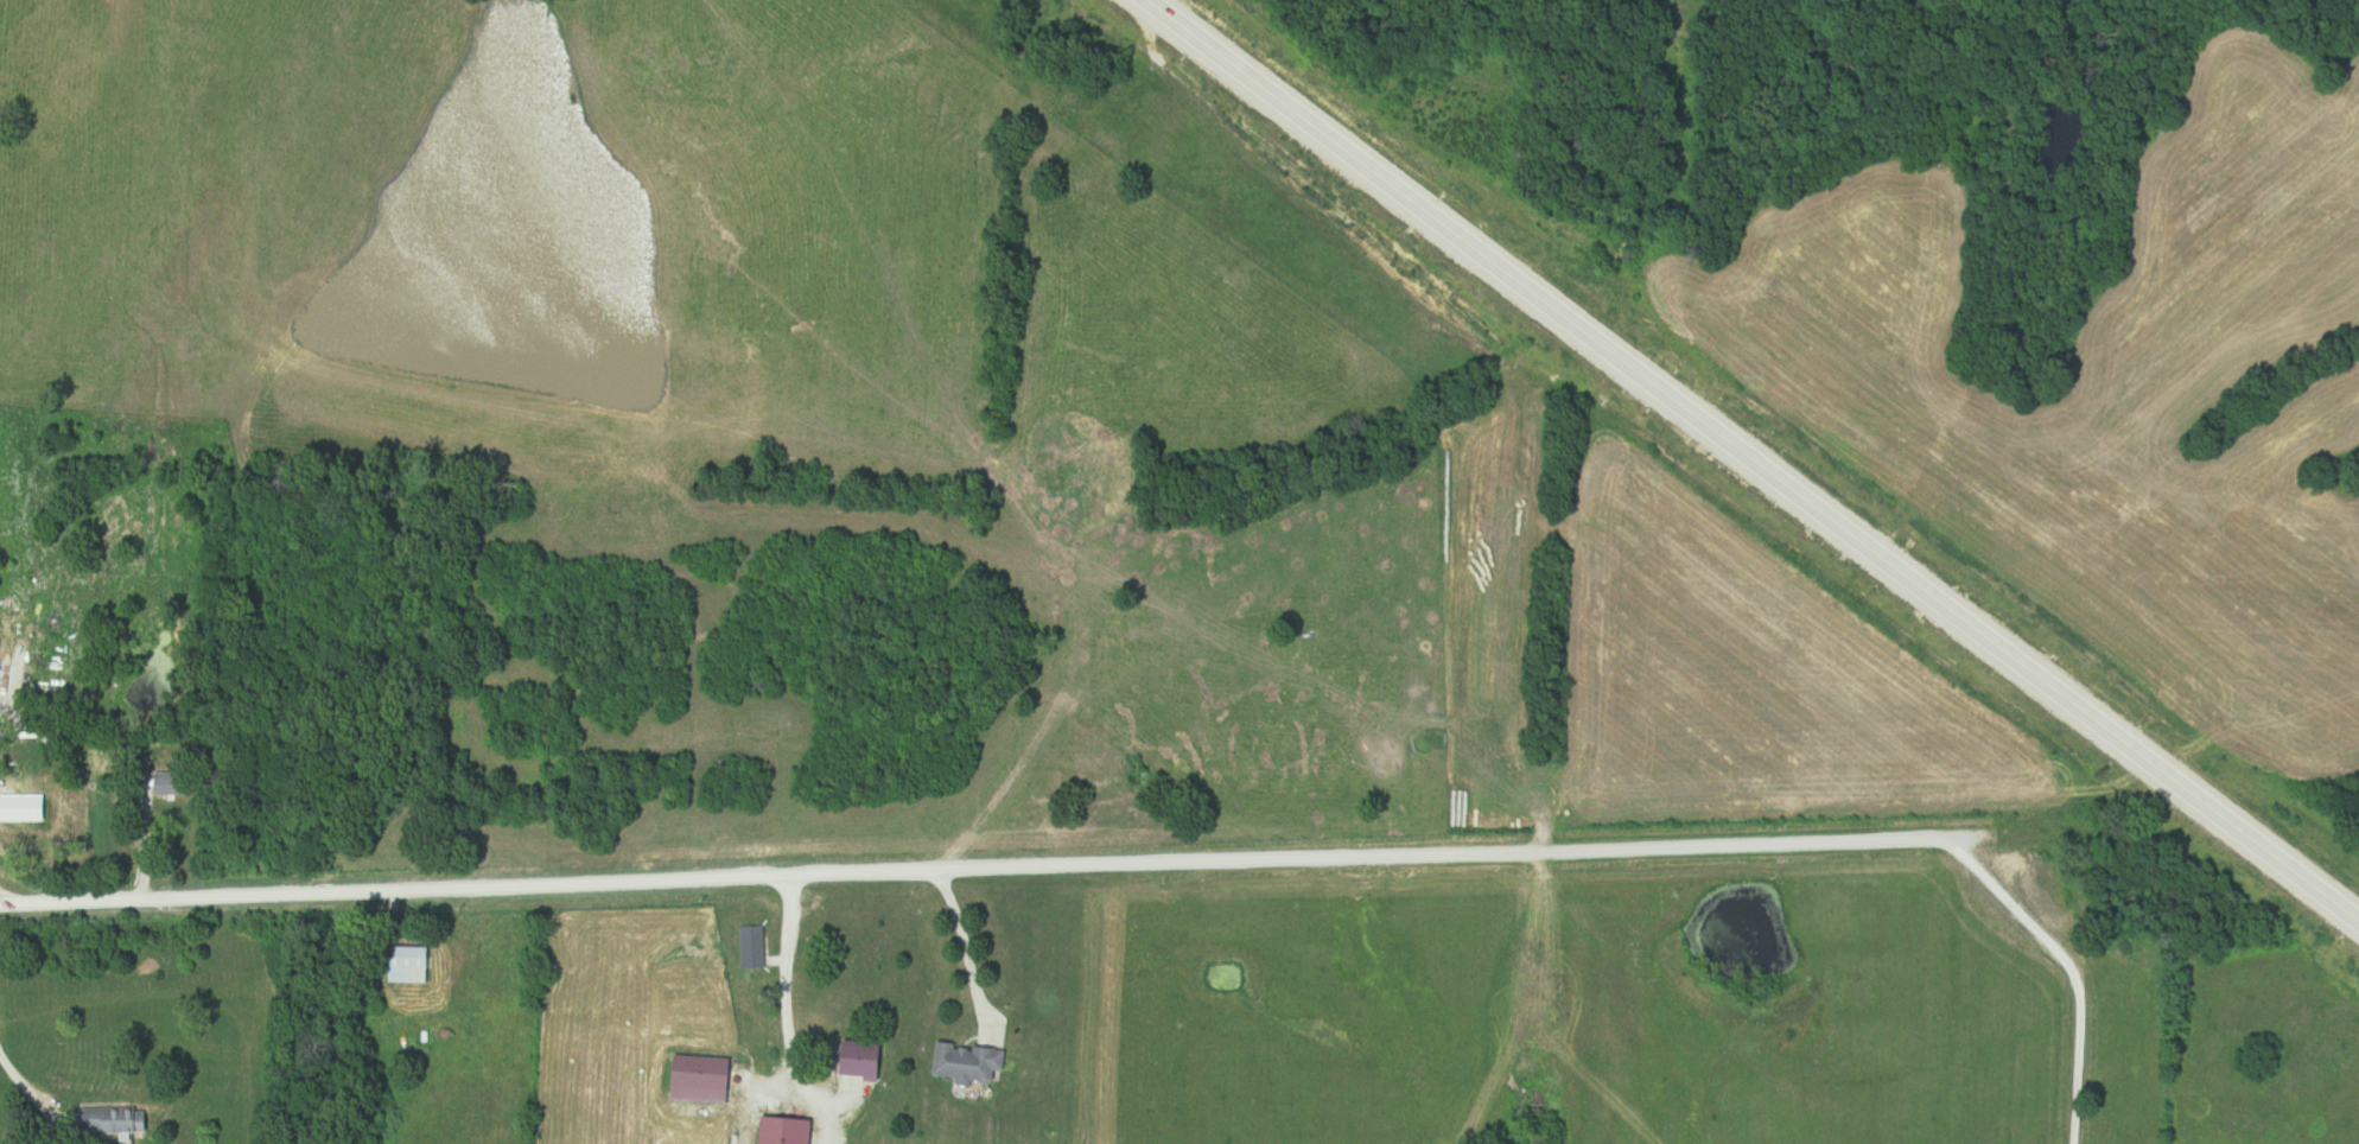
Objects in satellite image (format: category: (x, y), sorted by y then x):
crop: (2102, 403)
road: (1749, 460)
crop: (1749, 688)
building: (19, 811)
road: (1150, 862)
building: (749, 947)
road: (968, 947)
building: (403, 965)
road: (787, 1017)
building: (852, 1060)
building: (962, 1062)
road: (31, 1091)
building: (108, 1120)

